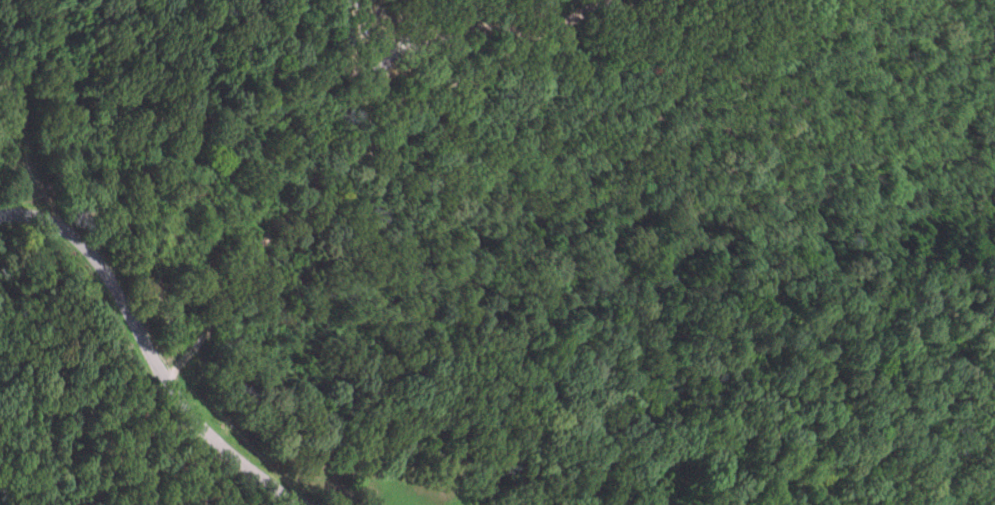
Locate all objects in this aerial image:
road: (357, 167)
road: (202, 189)
road: (142, 353)

